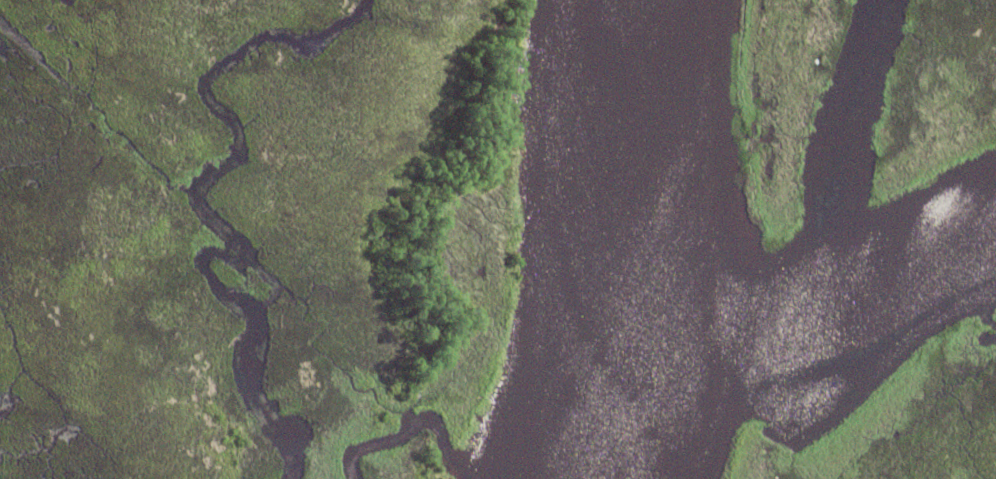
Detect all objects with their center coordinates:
river: (615, 240)

